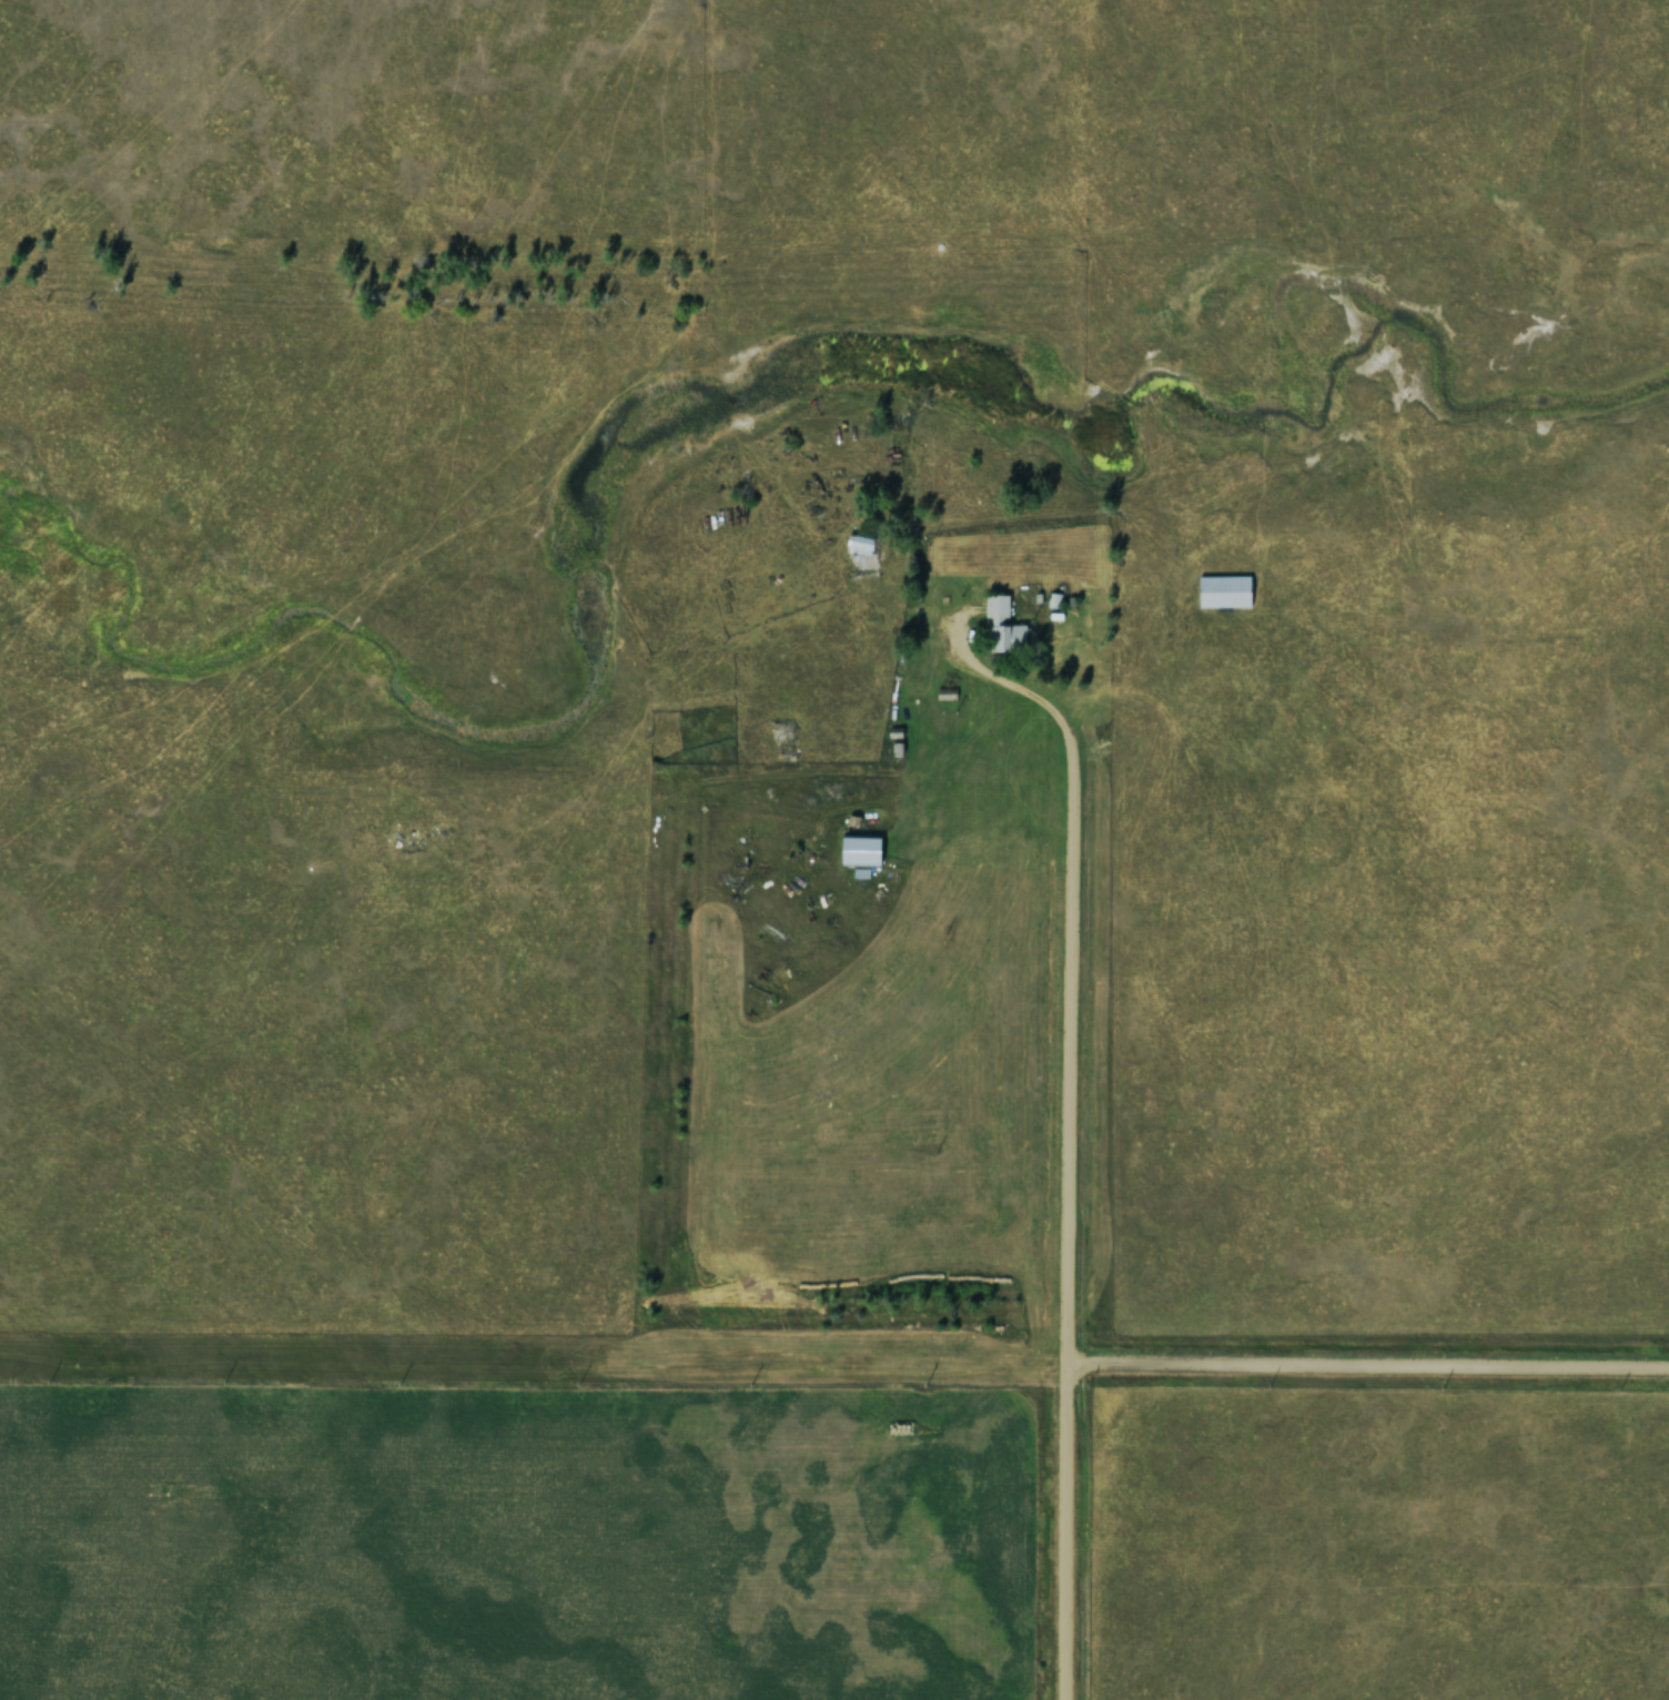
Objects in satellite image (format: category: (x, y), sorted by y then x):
building: (864, 559)
building: (1223, 590)
building: (1002, 627)
building: (780, 730)
building: (861, 849)
road: (1062, 1264)
road: (1366, 1354)

